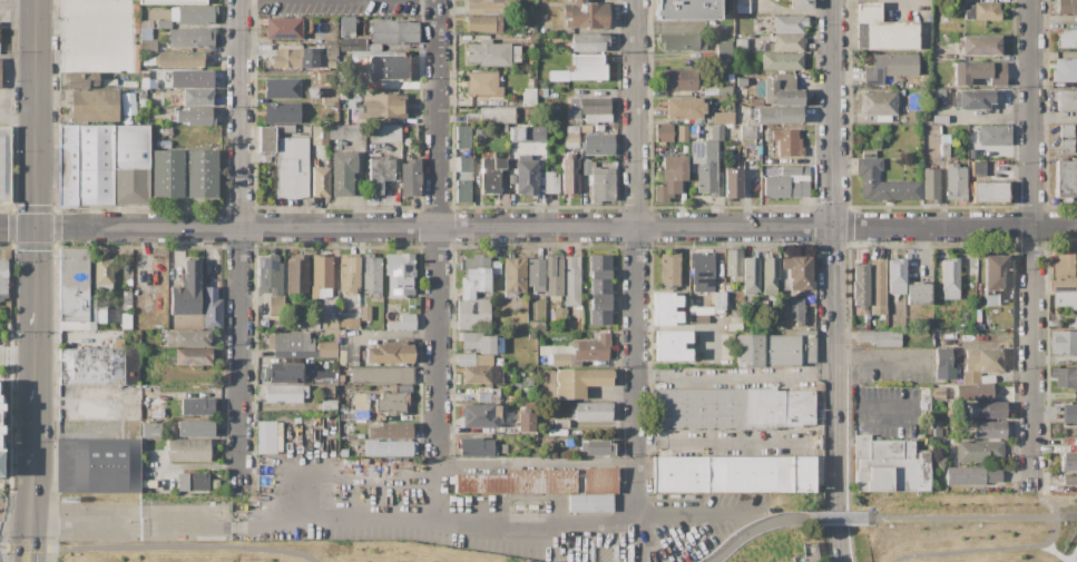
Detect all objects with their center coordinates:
building: (173, 2)
road: (19, 3)
building: (802, 4)
building: (742, 6)
building: (492, 7)
building: (1066, 7)
building: (686, 9)
building: (983, 11)
building: (174, 14)
building: (195, 14)
building: (585, 14)
building: (135, 19)
building: (146, 23)
building: (789, 23)
building: (163, 24)
building: (483, 24)
building: (347, 27)
building: (284, 28)
building: (882, 29)
building: (394, 32)
building: (145, 33)
building: (192, 37)
building: (510, 37)
building: (1066, 38)
building: (315, 39)
building: (517, 39)
building: (525, 39)
building: (532, 39)
building: (679, 41)
building: (787, 41)
building: (588, 42)
building: (360, 45)
building: (567, 45)
building: (741, 45)
building: (980, 45)
building: (147, 46)
building: (724, 49)
building: (327, 50)
building: (488, 53)
building: (516, 53)
building: (135, 58)
building: (292, 58)
building: (179, 60)
building: (782, 61)
building: (331, 65)
building: (389, 67)
building: (890, 67)
building: (587, 68)
building: (1065, 70)
building: (980, 72)
building: (557, 76)
building: (189, 78)
building: (926, 78)
building: (144, 79)
building: (62, 80)
building: (81, 80)
building: (679, 80)
building: (108, 81)
building: (741, 81)
building: (129, 83)
building: (482, 83)
building: (531, 83)
building: (282, 88)
building: (782, 91)
building: (313, 92)
building: (939, 95)
building: (197, 97)
building: (533, 97)
building: (178, 99)
building: (972, 99)
building: (1066, 100)
building: (562, 102)
building: (879, 102)
building: (92, 106)
building: (588, 106)
building: (383, 107)
building: (684, 108)
building: (282, 112)
building: (497, 115)
building: (780, 115)
building: (195, 116)
building: (472, 118)
building: (723, 118)
building: (591, 119)
building: (711, 119)
building: (578, 122)
building: (586, 128)
building: (284, 129)
building: (694, 129)
building: (572, 130)
building: (164, 131)
building: (187, 131)
building: (346, 131)
building: (480, 131)
building: (747, 131)
building: (1067, 131)
building: (385, 132)
building: (664, 132)
building: (717, 132)
building: (526, 134)
building: (683, 134)
building: (320, 135)
building: (993, 135)
building: (463, 137)
building: (572, 138)
building: (266, 139)
building: (787, 142)
building: (163, 144)
building: (944, 145)
building: (572, 146)
building: (597, 146)
building: (1067, 146)
road: (38, 149)
building: (493, 155)
building: (130, 164)
building: (466, 164)
building: (4, 165)
building: (67, 165)
building: (94, 165)
building: (704, 165)
building: (292, 167)
building: (586, 167)
building: (979, 168)
building: (791, 170)
building: (804, 170)
building: (167, 172)
building: (342, 172)
building: (202, 174)
building: (379, 174)
building: (492, 175)
building: (526, 175)
building: (570, 176)
building: (410, 178)
building: (670, 178)
building: (1066, 180)
building: (320, 183)
building: (551, 183)
building: (882, 183)
building: (930, 183)
building: (956, 183)
building: (601, 184)
building: (732, 184)
building: (786, 186)
building: (463, 191)
building: (989, 193)
road: (437, 228)
road: (538, 228)
road: (635, 228)
road: (1031, 240)
road: (241, 245)
road: (832, 246)
building: (478, 262)
building: (733, 263)
building: (669, 270)
building: (102, 272)
building: (702, 272)
building: (799, 272)
building: (349, 273)
building: (995, 273)
building: (296, 274)
building: (321, 274)
building: (399, 274)
building: (536, 274)
building: (1066, 274)
building: (271, 275)
building: (372, 275)
building: (513, 275)
building: (751, 275)
building: (770, 275)
building: (554, 276)
building: (895, 276)
building: (2, 278)
building: (950, 279)
building: (571, 280)
building: (474, 283)
building: (217, 285)
building: (860, 286)
building: (878, 287)
building: (971, 289)
building: (187, 290)
building: (599, 290)
building: (75, 293)
building: (918, 294)
building: (1066, 299)
building: (127, 300)
building: (992, 300)
building: (719, 303)
building: (276, 305)
building: (666, 308)
building: (701, 310)
building: (795, 310)
building: (978, 312)
building: (365, 313)
building: (212, 314)
building: (472, 314)
building: (1076, 317)
building: (698, 319)
building: (979, 319)
building: (126, 321)
building: (330, 323)
building: (349, 323)
building: (402, 323)
building: (782, 324)
building: (937, 324)
building: (305, 325)
building: (314, 325)
building: (536, 325)
building: (980, 326)
building: (341, 333)
building: (531, 335)
building: (881, 337)
building: (187, 338)
building: (290, 342)
building: (480, 343)
building: (1065, 343)
building: (672, 346)
building: (593, 348)
building: (327, 349)
building: (557, 349)
building: (775, 349)
building: (390, 353)
building: (349, 355)
building: (194, 356)
road: (880, 358)
building: (473, 359)
building: (562, 359)
building: (944, 361)
building: (981, 364)
building: (91, 366)
building: (285, 366)
road: (734, 373)
building: (496, 374)
building: (382, 375)
building: (476, 375)
building: (285, 376)
building: (324, 376)
building: (1066, 377)
road: (37, 379)
building: (340, 381)
building: (578, 381)
building: (331, 382)
building: (326, 392)
building: (495, 392)
building: (976, 392)
building: (285, 393)
building: (541, 393)
building: (939, 394)
building: (511, 398)
building: (392, 403)
building: (926, 403)
building: (329, 404)
building: (196, 406)
building: (361, 406)
building: (154, 407)
building: (732, 408)
building: (986, 410)
building: (591, 411)
road: (875, 411)
building: (1070, 414)
building: (267, 415)
building: (480, 415)
building: (344, 416)
building: (0, 420)
building: (527, 422)
building: (561, 423)
building: (196, 428)
building: (345, 428)
building: (989, 430)
building: (151, 431)
building: (391, 431)
building: (510, 431)
building: (937, 432)
building: (265, 436)
building: (569, 443)
building: (548, 446)
building: (476, 447)
building: (597, 447)
building: (389, 448)
building: (503, 448)
building: (188, 450)
building: (979, 451)
building: (343, 453)
building: (1068, 462)
building: (0, 463)
building: (884, 464)
building: (97, 465)
road: (343, 472)
building: (736, 473)
building: (972, 474)
building: (193, 481)
building: (600, 481)
building: (1069, 481)
building: (520, 482)
road: (433, 489)
road: (634, 490)
road: (33, 491)
road: (1045, 500)
building: (590, 502)
building: (520, 506)
building: (532, 506)
park: (1, 510)
road: (1065, 516)
road: (965, 517)
road: (838, 519)
road: (112, 520)
road: (478, 525)
road: (836, 528)
park: (966, 528)
park: (764, 530)
road: (751, 531)
road: (31, 541)
road: (159, 548)
road: (983, 550)
park: (268, 552)
building: (809, 552)
road: (1054, 552)
road: (1071, 553)

